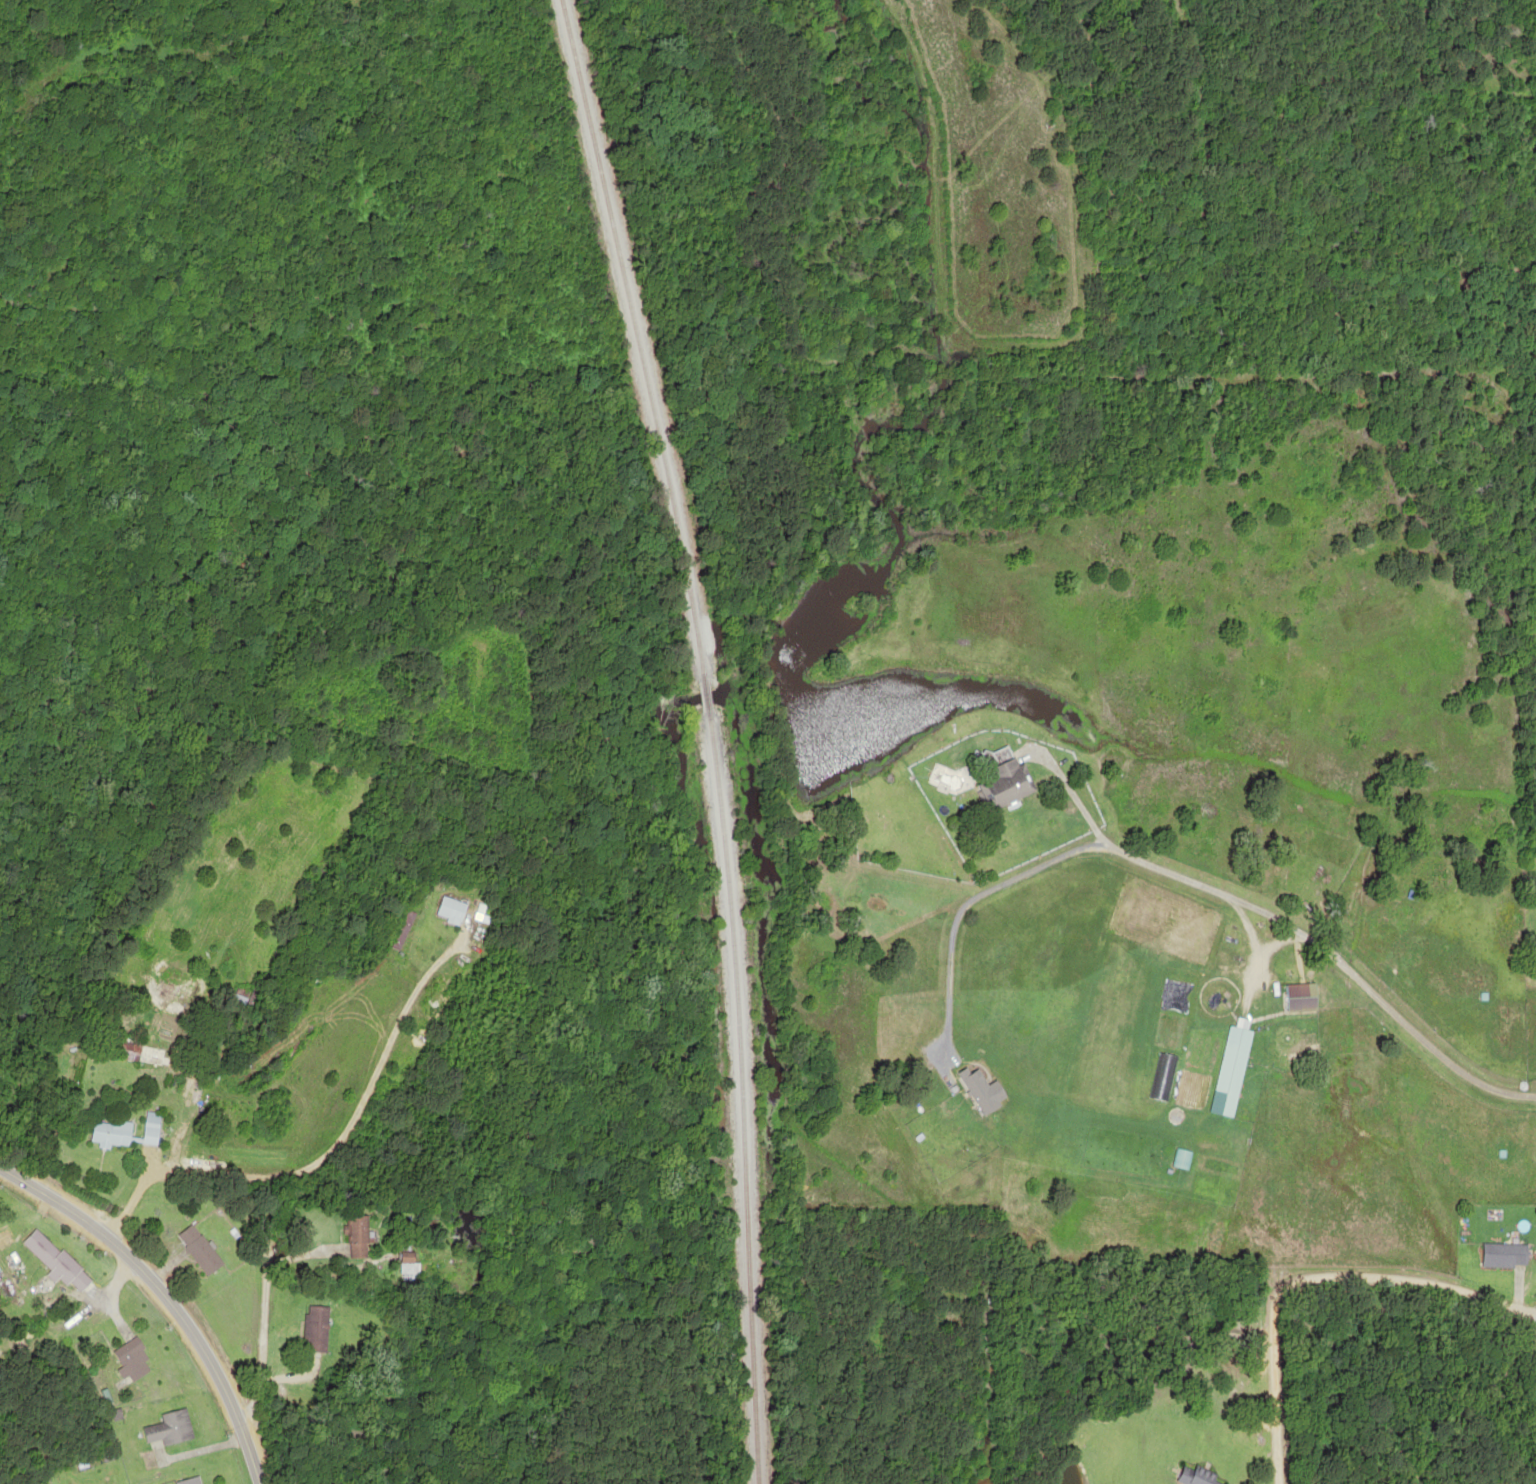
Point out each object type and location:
railway: (621, 312)
railway: (701, 669)
building: (1002, 783)
building: (449, 910)
building: (403, 930)
building: (1299, 997)
building: (231, 1003)
building: (127, 1049)
building: (1229, 1069)
road: (1534, 1070)
railway: (741, 1098)
building: (148, 1128)
building: (107, 1133)
building: (1180, 1159)
building: (358, 1237)
building: (200, 1250)
building: (1502, 1254)
building: (58, 1256)
building: (406, 1256)
road: (1310, 1274)
road: (161, 1297)
building: (320, 1328)
building: (126, 1348)
road: (283, 1363)
building: (134, 1364)
river: (387, 1419)
building: (175, 1426)
building: (1195, 1476)
building: (187, 1480)

